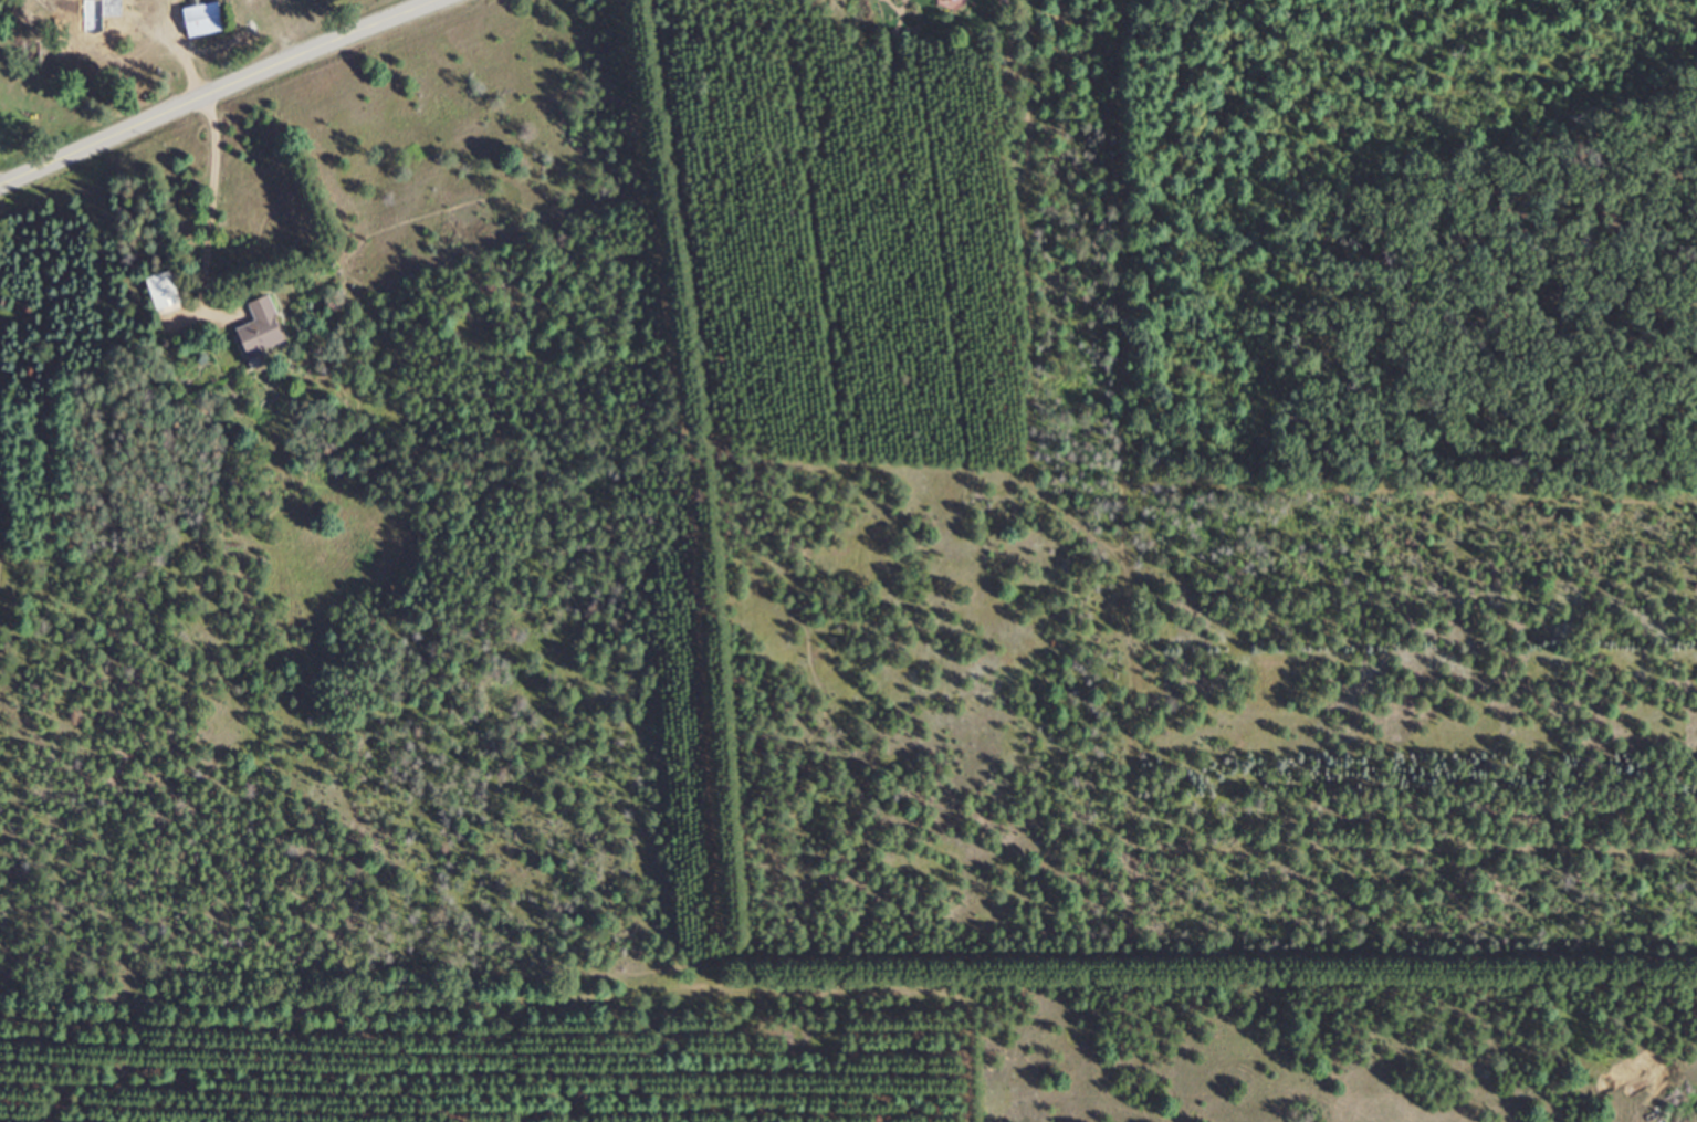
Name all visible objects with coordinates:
building: (106, 13)
building: (201, 19)
road: (185, 40)
road: (222, 90)
road: (207, 223)
building: (163, 291)
building: (262, 327)

